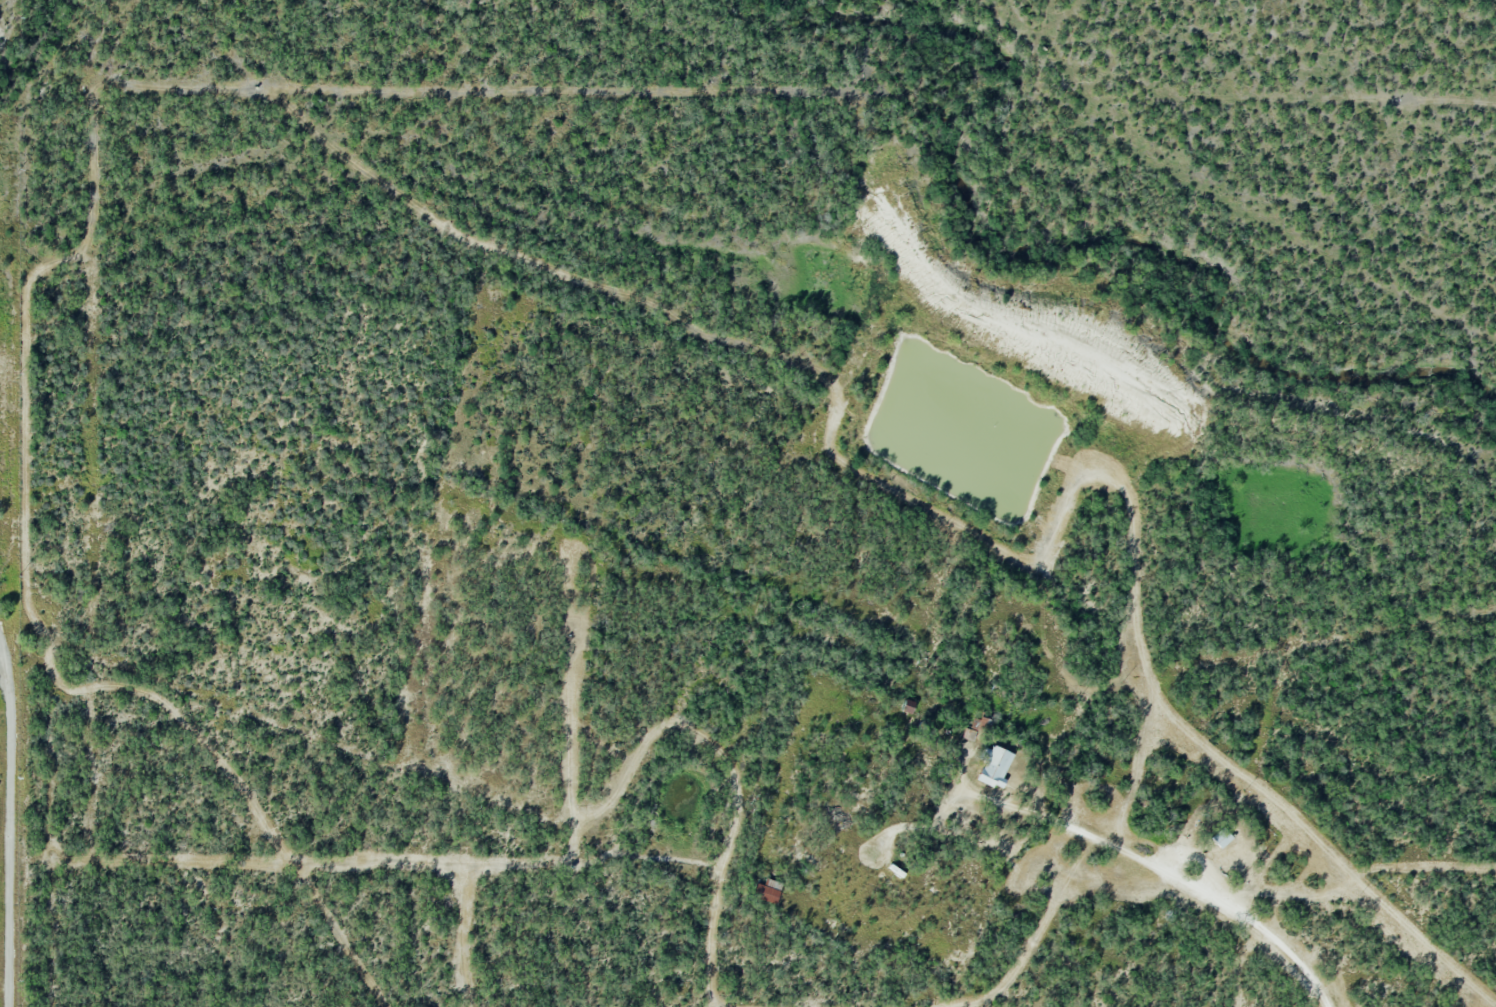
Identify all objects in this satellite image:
building: (995, 767)
road: (11, 815)
road: (1165, 871)

